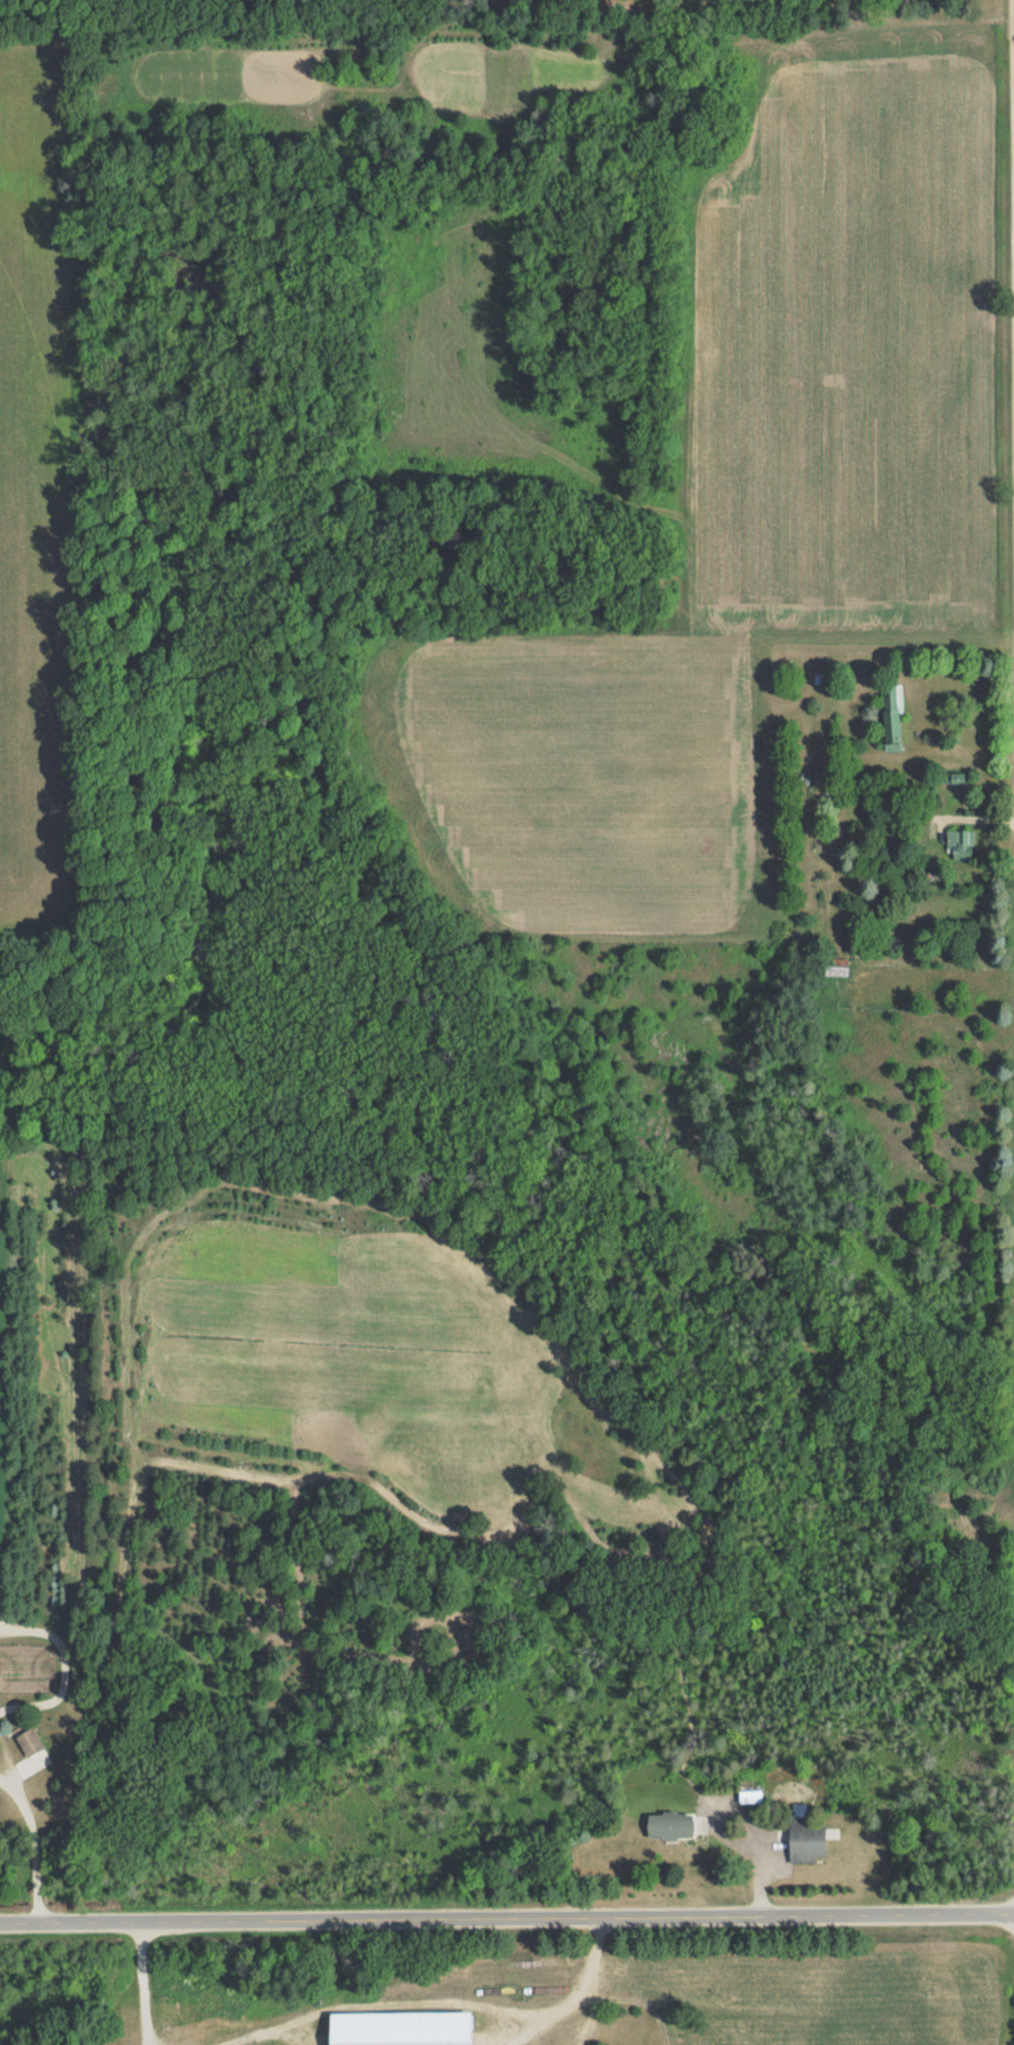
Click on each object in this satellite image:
building: (893, 718)
building: (959, 844)
building: (835, 967)
road: (65, 1669)
building: (29, 1742)
building: (750, 1796)
building: (670, 1825)
building: (806, 1842)
road: (35, 1843)
road: (507, 1918)
road: (143, 1983)
road: (585, 1985)
building: (400, 2028)

